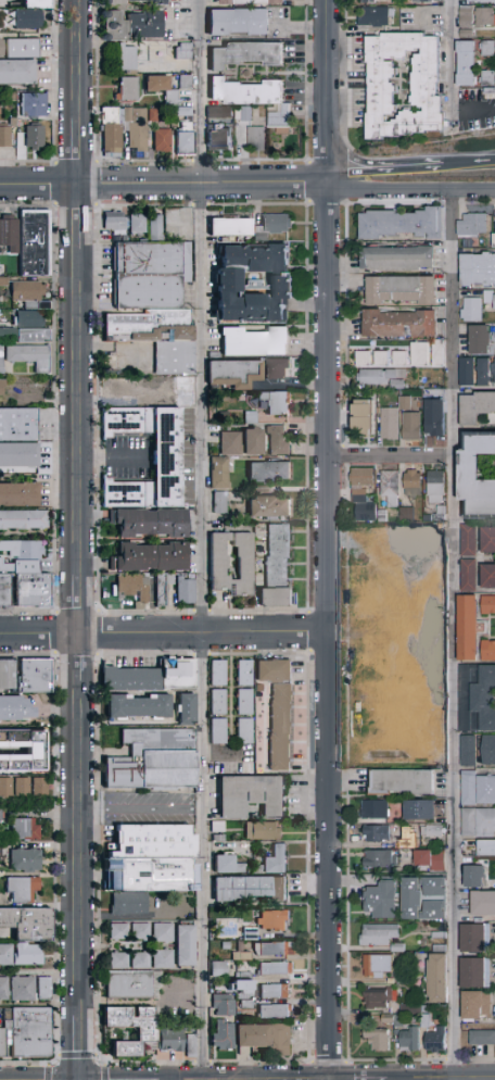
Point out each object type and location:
building: (484, 1)
building: (115, 2)
building: (253, 2)
building: (372, 2)
building: (423, 2)
building: (38, 4)
building: (377, 17)
building: (468, 17)
building: (485, 18)
building: (29, 20)
building: (241, 23)
building: (132, 26)
building: (494, 32)
building: (467, 35)
building: (2, 48)
building: (25, 49)
building: (488, 50)
building: (186, 52)
building: (249, 55)
road: (452, 55)
building: (128, 58)
road: (78, 59)
building: (468, 64)
building: (17, 73)
road: (344, 76)
building: (488, 79)
building: (187, 83)
building: (164, 89)
building: (129, 90)
building: (384, 90)
building: (491, 91)
road: (203, 92)
road: (330, 92)
building: (12, 98)
building: (256, 100)
building: (36, 105)
road: (473, 111)
building: (1, 112)
building: (183, 113)
building: (221, 113)
building: (247, 115)
building: (155, 116)
building: (15, 121)
building: (138, 131)
building: (114, 133)
building: (7, 136)
building: (36, 137)
building: (220, 139)
building: (258, 139)
building: (163, 141)
building: (187, 145)
road: (79, 151)
road: (356, 160)
road: (468, 162)
road: (416, 165)
road: (360, 176)
road: (40, 185)
road: (205, 185)
road: (412, 185)
road: (80, 216)
building: (471, 223)
building: (115, 224)
building: (137, 224)
building: (401, 224)
building: (272, 226)
building: (155, 227)
building: (230, 227)
building: (8, 233)
building: (493, 239)
building: (36, 243)
building: (148, 259)
building: (397, 260)
building: (477, 268)
building: (254, 282)
building: (401, 290)
building: (148, 291)
building: (27, 293)
building: (488, 298)
building: (470, 309)
building: (401, 324)
building: (24, 326)
building: (149, 326)
building: (478, 339)
building: (253, 342)
building: (437, 353)
building: (420, 354)
building: (26, 356)
building: (174, 357)
building: (363, 359)
building: (381, 360)
building: (399, 360)
building: (277, 369)
building: (466, 371)
building: (482, 371)
building: (494, 371)
building: (232, 373)
building: (376, 376)
building: (396, 385)
building: (1, 386)
building: (119, 387)
building: (183, 391)
building: (275, 402)
building: (404, 403)
building: (474, 406)
road: (80, 411)
building: (249, 417)
building: (364, 417)
building: (434, 418)
building: (126, 419)
building: (18, 422)
building: (389, 423)
building: (411, 427)
building: (277, 440)
building: (252, 441)
building: (230, 443)
road: (114, 453)
building: (17, 455)
building: (166, 456)
road: (394, 456)
building: (268, 472)
building: (219, 473)
building: (478, 475)
building: (361, 478)
building: (411, 484)
building: (390, 487)
building: (435, 487)
building: (359, 492)
building: (17, 493)
building: (126, 493)
building: (359, 499)
building: (219, 502)
building: (269, 507)
building: (365, 513)
building: (406, 514)
building: (382, 516)
building: (427, 517)
building: (23, 518)
building: (440, 518)
building: (149, 522)
building: (487, 539)
building: (467, 540)
building: (382, 542)
building: (149, 557)
building: (216, 566)
building: (432, 567)
building: (276, 568)
building: (467, 574)
building: (487, 575)
building: (134, 587)
building: (162, 587)
building: (7, 589)
building: (36, 590)
building: (185, 591)
building: (382, 591)
building: (487, 603)
road: (81, 605)
building: (466, 626)
road: (204, 631)
road: (332, 631)
road: (456, 631)
road: (166, 635)
building: (396, 643)
building: (432, 643)
building: (487, 649)
road: (81, 658)
building: (7, 671)
building: (272, 671)
building: (217, 673)
building: (244, 673)
building: (35, 674)
building: (151, 677)
building: (258, 688)
building: (382, 698)
building: (218, 702)
building: (244, 702)
building: (15, 706)
building: (138, 707)
building: (187, 709)
building: (432, 721)
building: (280, 727)
building: (218, 731)
building: (244, 731)
building: (26, 740)
building: (383, 746)
building: (466, 749)
building: (487, 749)
building: (152, 757)
building: (403, 782)
building: (5, 784)
building: (38, 784)
building: (20, 786)
building: (477, 787)
building: (251, 795)
building: (168, 804)
road: (143, 808)
building: (373, 809)
building: (422, 809)
building: (477, 820)
building: (217, 826)
building: (23, 827)
building: (262, 830)
building: (430, 830)
building: (376, 833)
building: (157, 838)
building: (218, 838)
building: (409, 840)
building: (399, 844)
building: (485, 845)
road: (82, 849)
building: (23, 858)
building: (379, 858)
building: (429, 859)
building: (276, 861)
building: (227, 865)
building: (158, 872)
building: (472, 875)
building: (20, 887)
building: (434, 887)
building: (247, 888)
building: (410, 899)
building: (382, 900)
building: (127, 901)
building: (482, 901)
building: (434, 909)
building: (274, 919)
building: (28, 921)
building: (117, 929)
building: (140, 929)
building: (162, 930)
building: (250, 933)
building: (378, 934)
building: (439, 935)
building: (473, 935)
building: (182, 943)
building: (226, 945)
building: (397, 949)
building: (439, 949)
building: (276, 950)
building: (3, 952)
building: (26, 953)
building: (213, 955)
building: (244, 956)
building: (162, 957)
building: (117, 958)
building: (139, 958)
building: (377, 965)
building: (218, 968)
building: (276, 968)
building: (473, 971)
building: (243, 976)
building: (436, 978)
building: (403, 979)
building: (390, 981)
building: (132, 984)
building: (243, 984)
building: (3, 987)
building: (21, 987)
building: (42, 987)
road: (185, 990)
building: (275, 991)
building: (379, 999)
building: (474, 1003)
building: (246, 1004)
building: (223, 1005)
building: (409, 1009)
building: (274, 1012)
building: (388, 1019)
building: (397, 1021)
building: (424, 1021)
building: (29, 1030)
building: (149, 1033)
building: (223, 1034)
building: (253, 1035)
building: (481, 1037)
building: (173, 1038)
building: (377, 1039)
building: (1, 1040)
building: (281, 1040)
building: (409, 1040)
building: (435, 1040)
road: (82, 1047)
building: (190, 1051)

